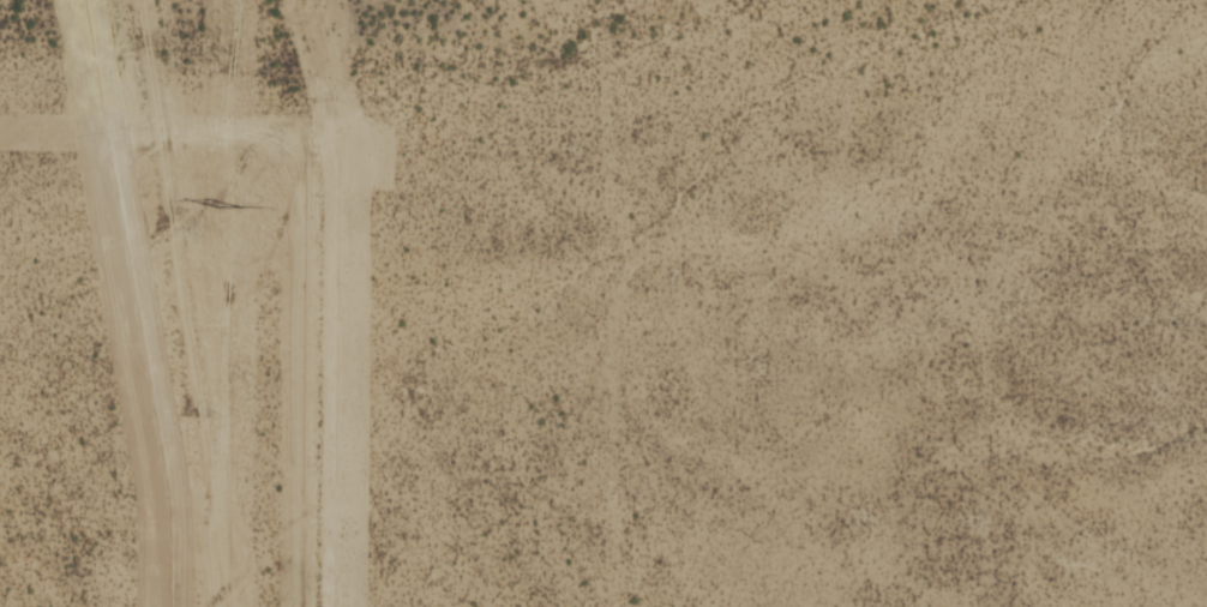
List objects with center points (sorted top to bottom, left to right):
power tower: (220, 204)

